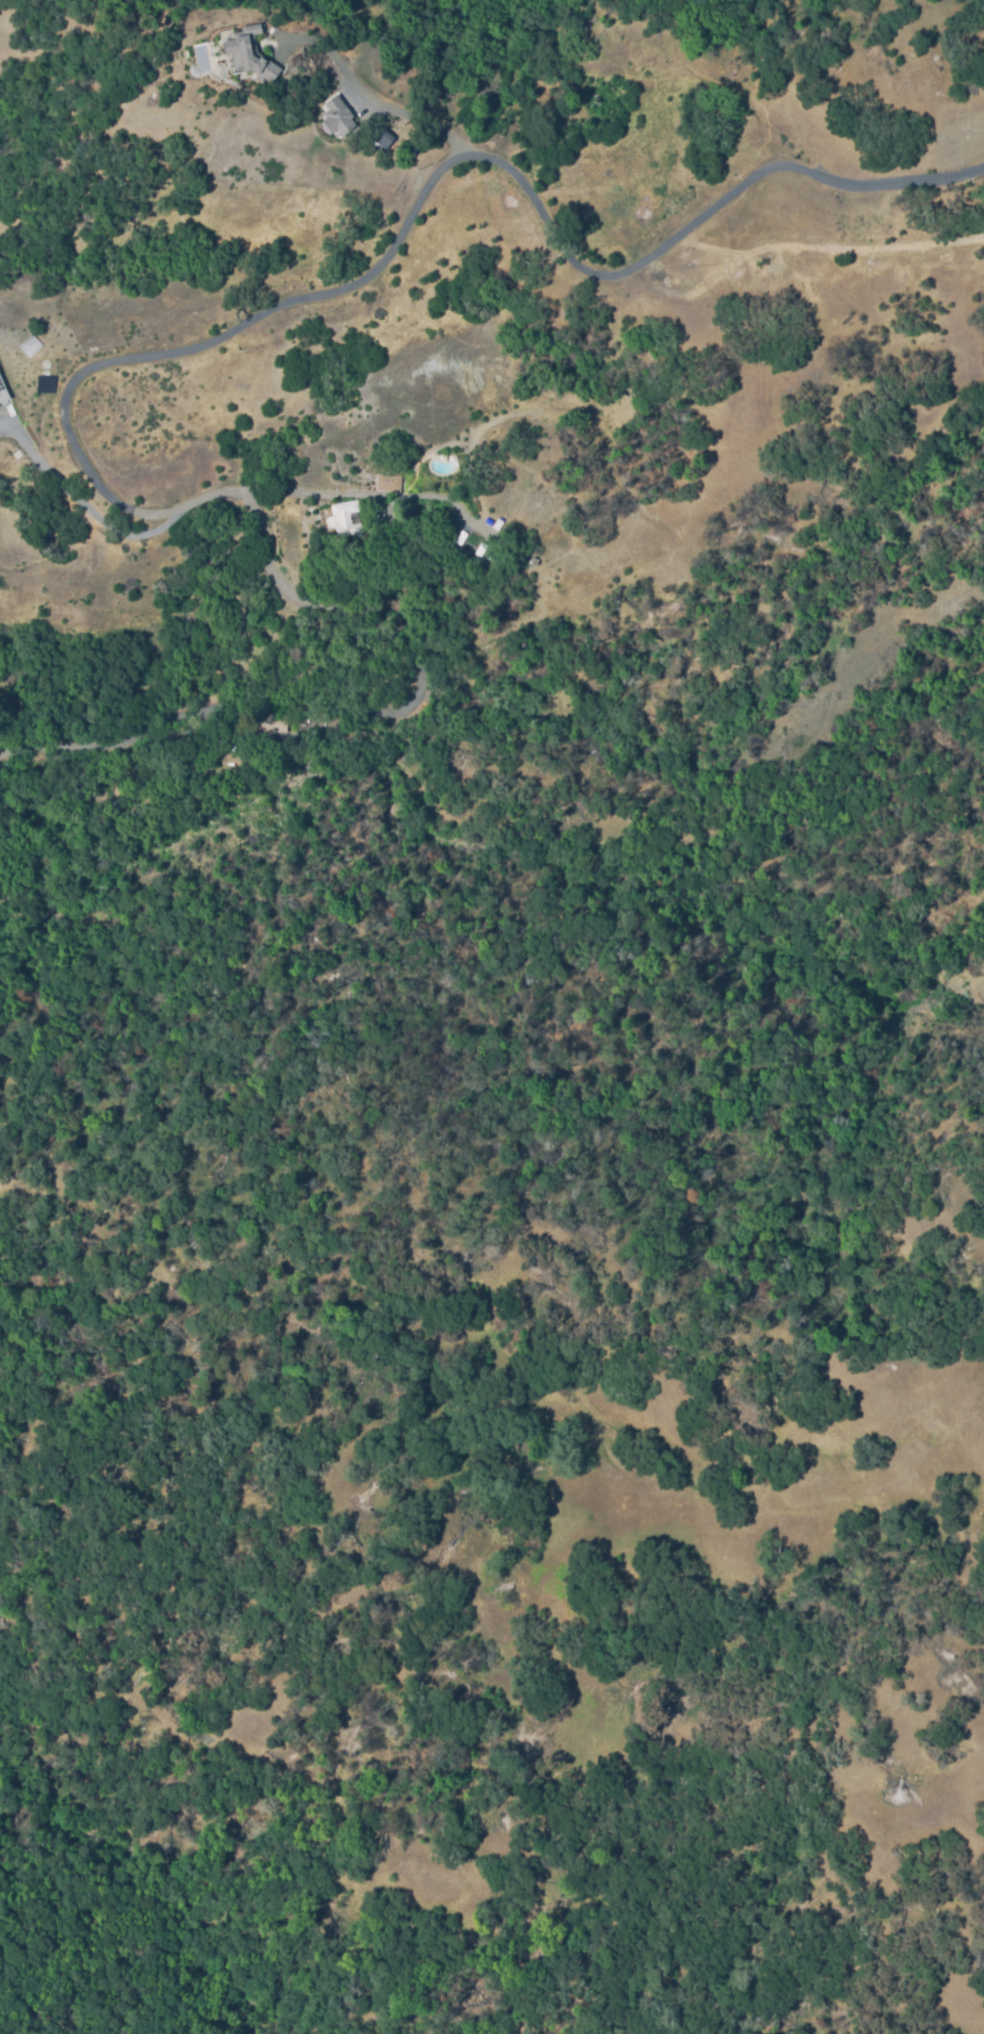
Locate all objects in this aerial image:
building: (249, 54)
road: (378, 99)
building: (337, 115)
building: (383, 139)
road: (124, 360)
building: (44, 362)
building: (44, 373)
building: (3, 391)
building: (389, 482)
road: (81, 501)
building: (342, 513)
building: (458, 537)
building: (478, 551)
building: (269, 723)
building: (229, 745)

